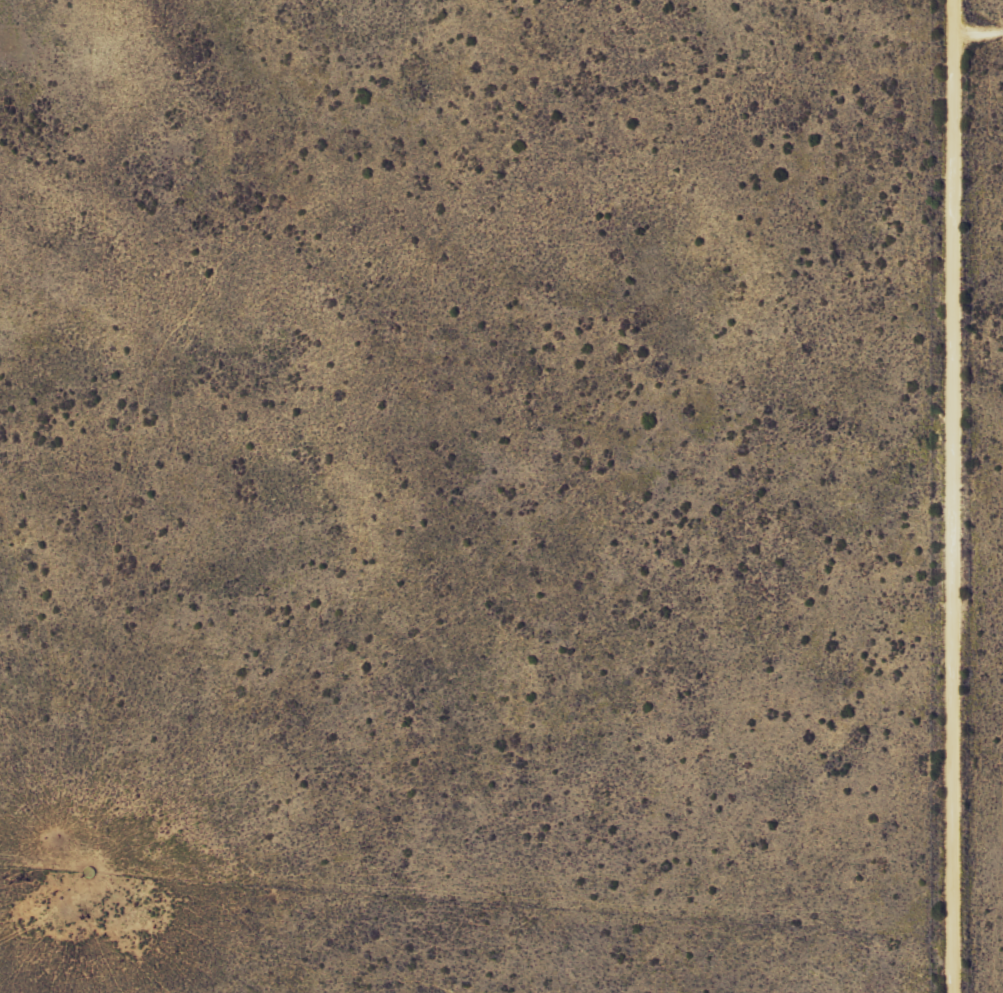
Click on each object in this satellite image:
road: (978, 35)
road: (953, 496)

